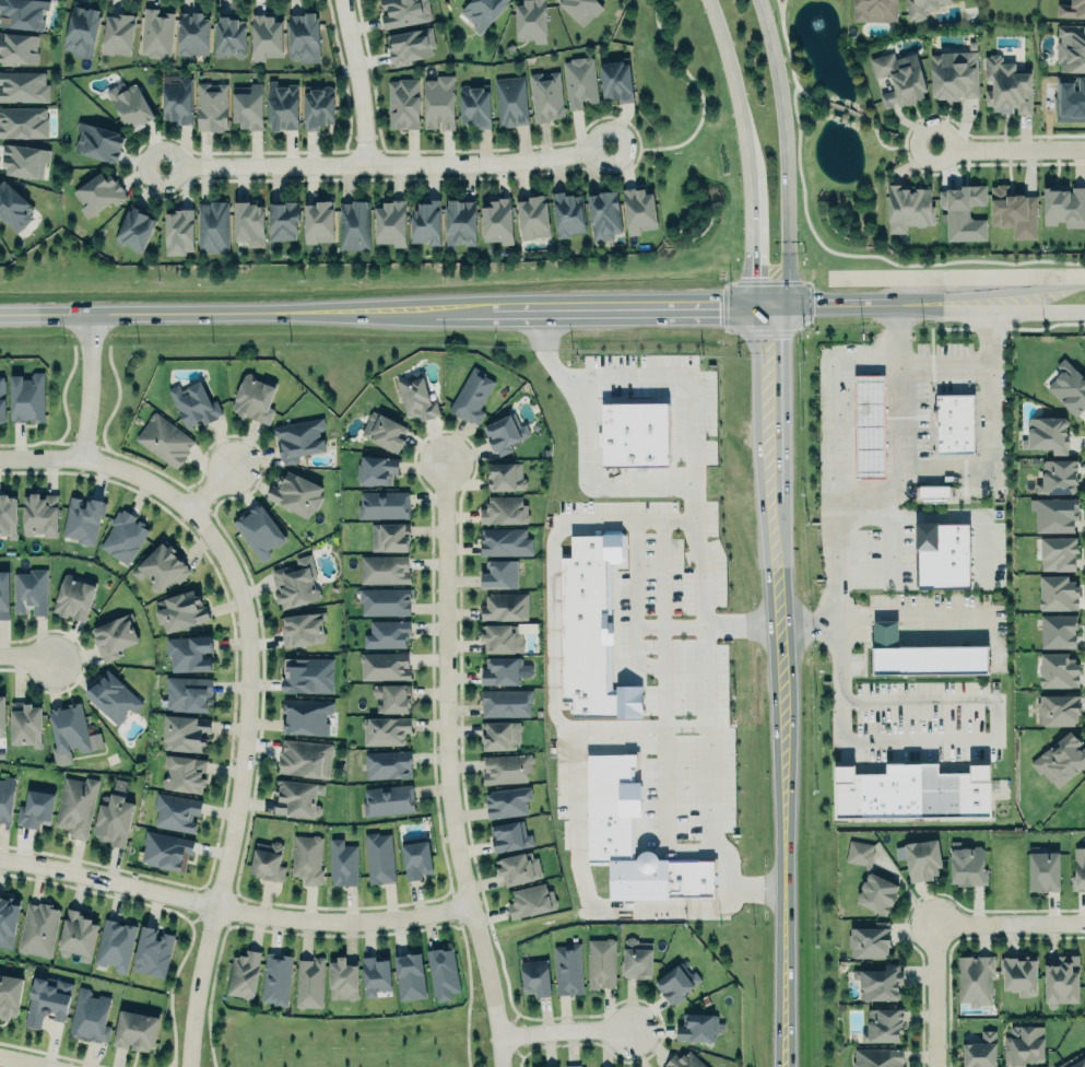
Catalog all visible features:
building: (580, 9)
road: (782, 9)
building: (923, 9)
building: (1073, 9)
building: (403, 11)
building: (482, 11)
building: (875, 11)
building: (22, 13)
building: (529, 19)
building: (81, 31)
building: (156, 32)
building: (119, 34)
building: (194, 34)
building: (228, 35)
building: (266, 36)
building: (304, 37)
building: (410, 46)
building: (1071, 48)
building: (16, 49)
road: (789, 58)
building: (955, 73)
building: (900, 78)
road: (352, 80)
building: (615, 80)
building: (579, 82)
building: (23, 86)
building: (1006, 86)
road: (734, 87)
building: (545, 95)
building: (1070, 99)
building: (178, 101)
building: (510, 101)
building: (281, 103)
building: (438, 103)
building: (403, 104)
road: (701, 104)
building: (129, 105)
building: (475, 105)
building: (248, 106)
building: (212, 107)
road: (841, 107)
building: (319, 108)
building: (23, 121)
road: (944, 128)
building: (98, 141)
road: (882, 143)
road: (1017, 149)
road: (788, 154)
road: (377, 159)
building: (25, 160)
building: (98, 192)
building: (906, 203)
building: (1064, 206)
building: (13, 208)
building: (962, 209)
building: (638, 211)
building: (568, 213)
building: (1014, 213)
building: (603, 215)
building: (532, 216)
building: (284, 220)
building: (425, 221)
building: (496, 221)
building: (318, 222)
building: (391, 223)
building: (460, 223)
building: (249, 224)
building: (354, 225)
building: (213, 226)
building: (135, 228)
building: (179, 232)
road: (751, 244)
road: (991, 293)
road: (832, 304)
traffic signals: (767, 305)
road: (630, 306)
road: (972, 307)
road: (1066, 310)
road: (247, 313)
road: (897, 357)
building: (1069, 384)
road: (900, 385)
road: (674, 388)
road: (89, 389)
building: (415, 395)
building: (471, 396)
building: (253, 397)
building: (27, 398)
building: (2, 399)
road: (771, 401)
building: (193, 404)
building: (955, 421)
building: (869, 425)
gas station: (869, 425)
building: (384, 429)
building: (635, 429)
building: (503, 432)
road: (836, 432)
building: (1046, 432)
building: (299, 437)
building: (164, 438)
road: (995, 460)
road: (42, 462)
building: (376, 468)
building: (505, 474)
building: (1057, 474)
road: (651, 483)
road: (202, 486)
building: (935, 491)
building: (295, 492)
building: (382, 503)
building: (504, 508)
building: (1054, 512)
building: (39, 513)
building: (8, 514)
building: (82, 519)
road: (888, 524)
building: (258, 530)
building: (123, 535)
building: (389, 537)
building: (505, 541)
building: (942, 549)
building: (1058, 551)
road: (778, 561)
building: (160, 566)
building: (384, 567)
building: (498, 572)
building: (294, 584)
building: (30, 590)
building: (1057, 591)
building: (3, 594)
building: (73, 595)
building: (385, 601)
building: (504, 607)
building: (180, 610)
road: (884, 611)
building: (302, 626)
building: (590, 628)
building: (1058, 631)
building: (387, 632)
building: (113, 634)
building: (500, 638)
building: (188, 652)
road: (22, 653)
building: (930, 659)
building: (384, 664)
building: (1058, 669)
building: (504, 670)
building: (307, 675)
road: (837, 679)
building: (188, 694)
building: (111, 695)
building: (391, 695)
building: (506, 703)
building: (1058, 708)
building: (306, 715)
building: (1, 716)
road: (999, 719)
building: (25, 724)
road: (563, 725)
road: (635, 726)
road: (245, 727)
building: (385, 730)
building: (73, 732)
building: (185, 732)
building: (499, 732)
building: (305, 757)
building: (1059, 758)
building: (387, 764)
building: (506, 767)
road: (446, 770)
building: (184, 772)
road: (708, 787)
building: (913, 790)
building: (297, 796)
building: (5, 798)
building: (389, 799)
building: (506, 800)
building: (75, 805)
building: (35, 809)
building: (175, 810)
building: (111, 820)
building: (609, 833)
building: (508, 834)
road: (785, 845)
building: (165, 848)
building: (859, 853)
building: (307, 857)
building: (378, 857)
building: (416, 857)
building: (919, 857)
building: (268, 859)
building: (342, 863)
building: (966, 864)
building: (517, 867)
building: (1078, 868)
building: (1042, 871)
building: (876, 893)
building: (530, 900)
road: (231, 907)
building: (9, 917)
road: (1009, 922)
building: (38, 927)
building: (76, 935)
building: (868, 940)
building: (114, 942)
building: (151, 950)
building: (636, 959)
building: (601, 962)
building: (567, 969)
building: (243, 972)
building: (375, 973)
building: (443, 973)
building: (1019, 975)
building: (409, 976)
building: (534, 976)
building: (276, 977)
building: (342, 978)
building: (974, 978)
building: (1060, 980)
building: (878, 981)
building: (309, 983)
building: (675, 983)
road: (932, 994)
building: (8, 996)
building: (45, 997)
building: (89, 1015)
building: (883, 1023)
building: (696, 1025)
road: (562, 1027)
building: (135, 1028)
building: (1023, 1043)
building: (980, 1051)
building: (877, 1057)
building: (683, 1060)
building: (1072, 1062)
road: (9, 1064)
building: (571, 1065)

